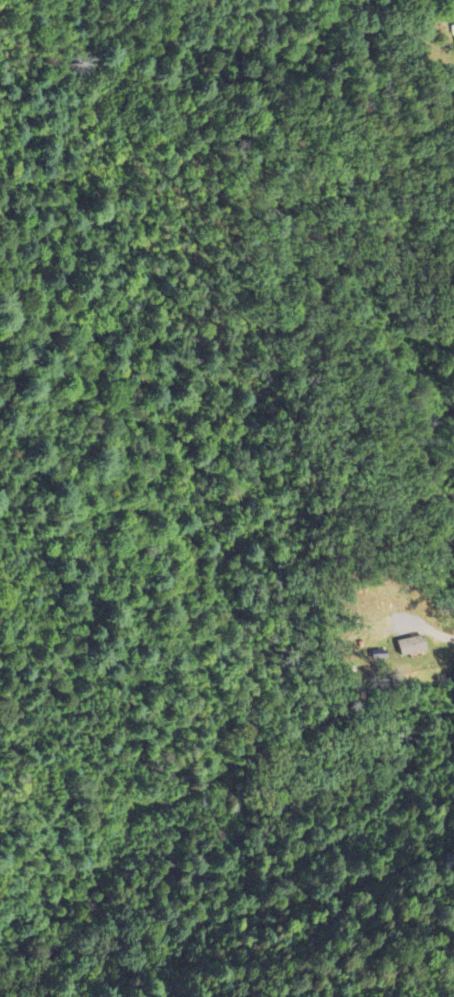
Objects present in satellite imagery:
building: (453, 21)
building: (411, 647)

